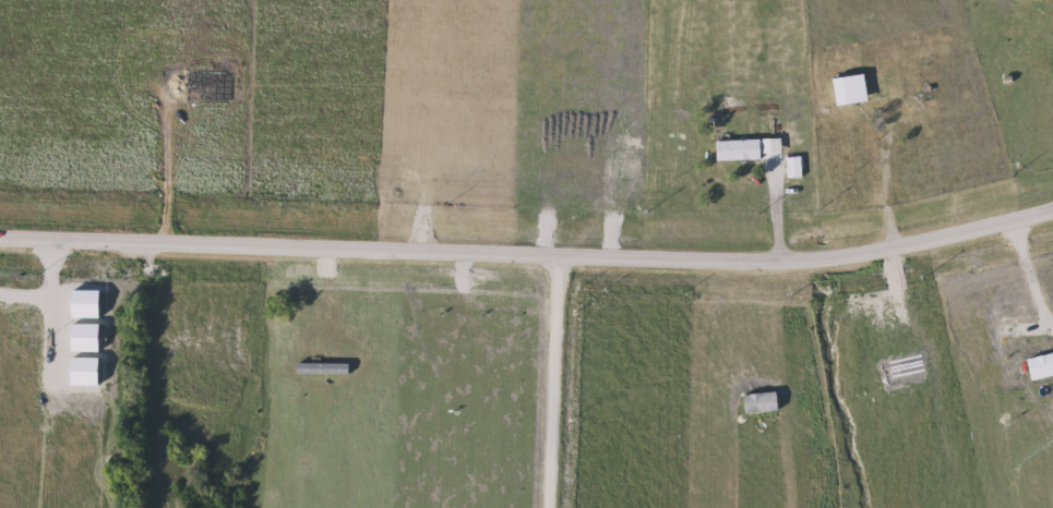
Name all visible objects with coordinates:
building: (854, 90)
building: (909, 116)
building: (741, 150)
building: (795, 168)
road: (875, 173)
road: (529, 253)
road: (553, 380)

